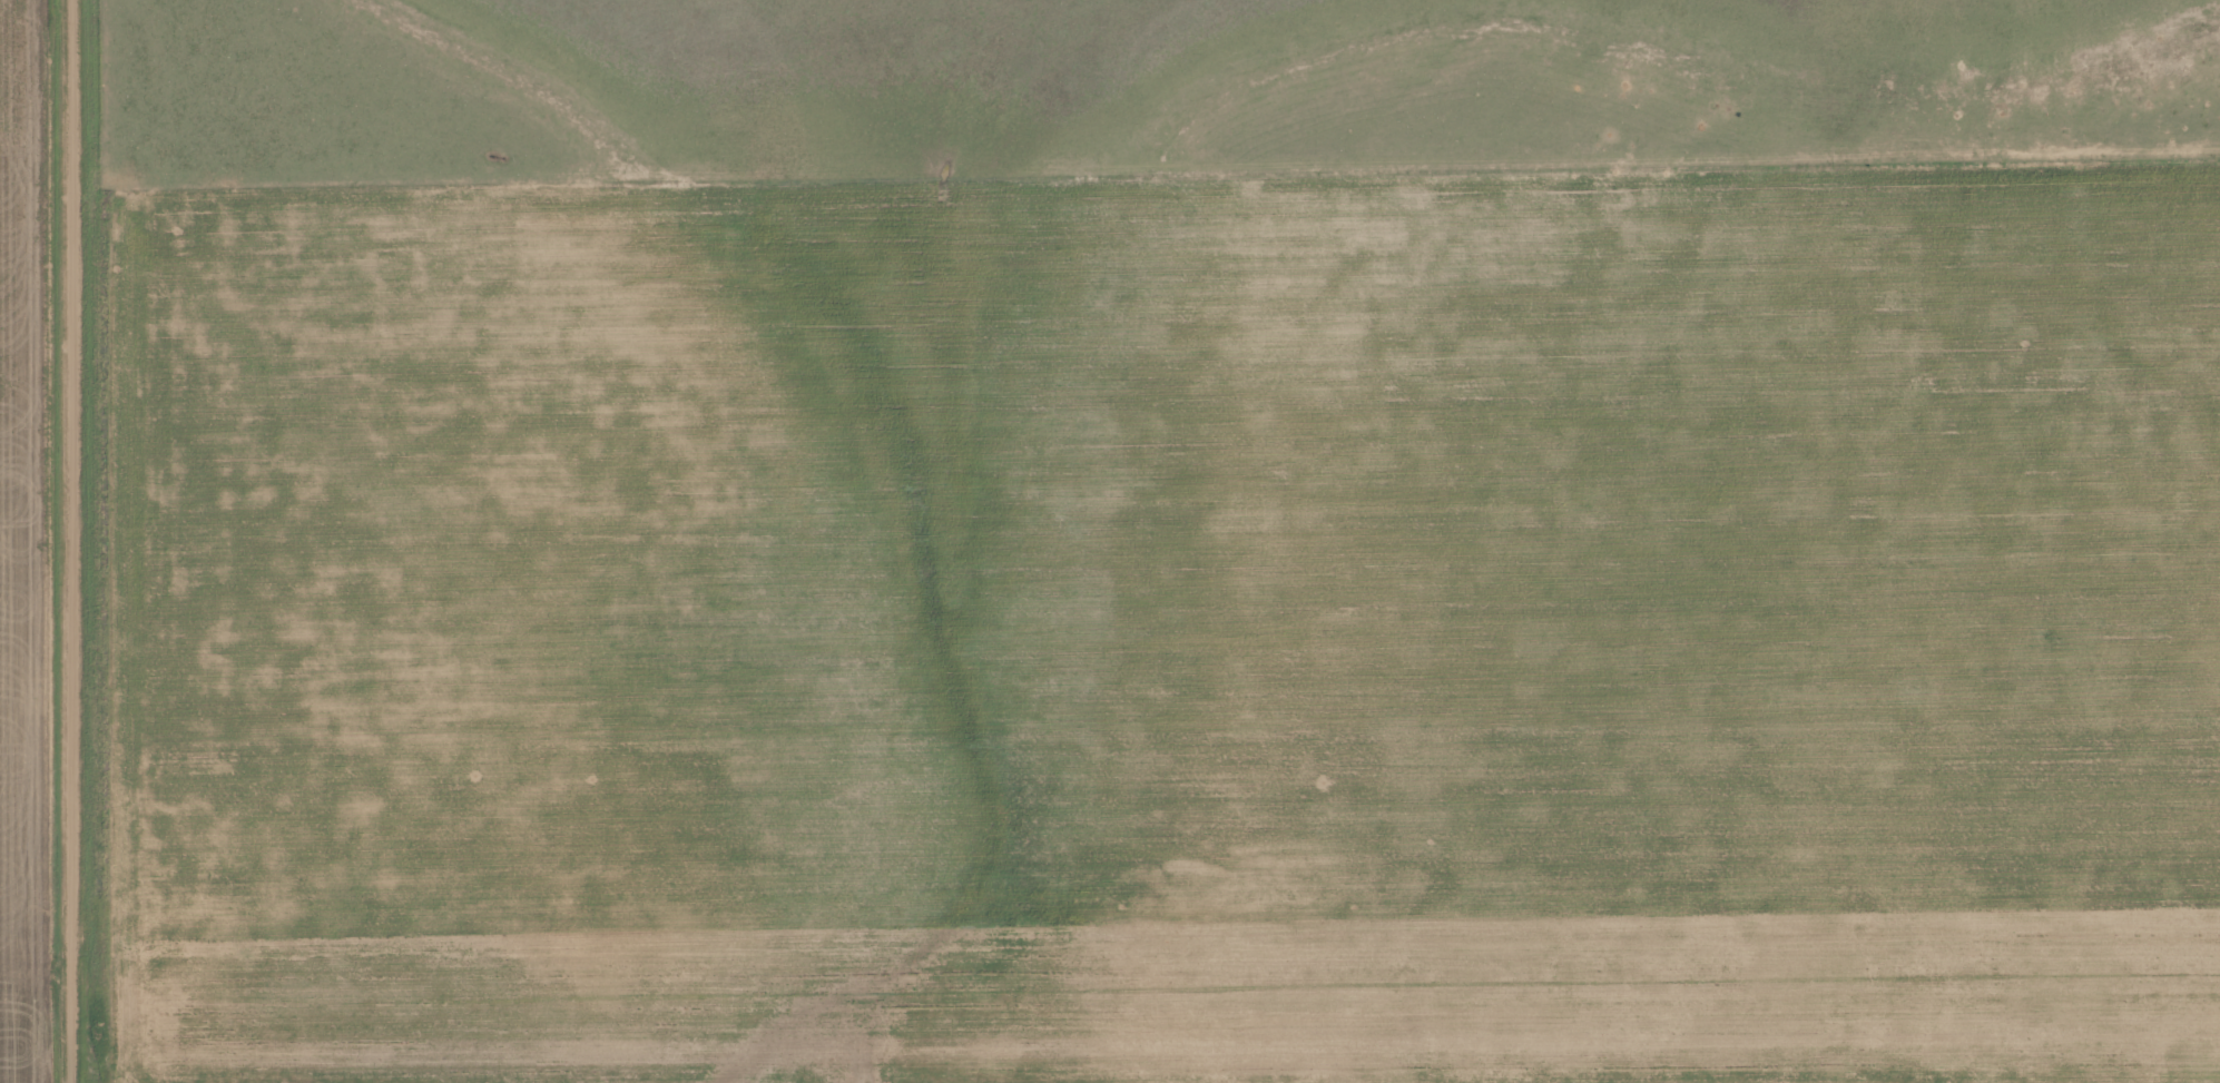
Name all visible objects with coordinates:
road: (75, 541)

